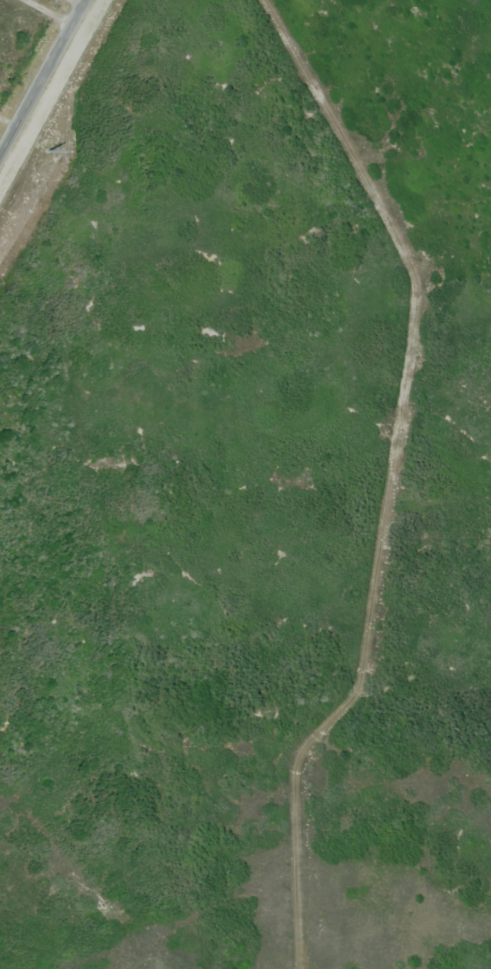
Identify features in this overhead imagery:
road: (42, 75)
airport: (250, 494)

